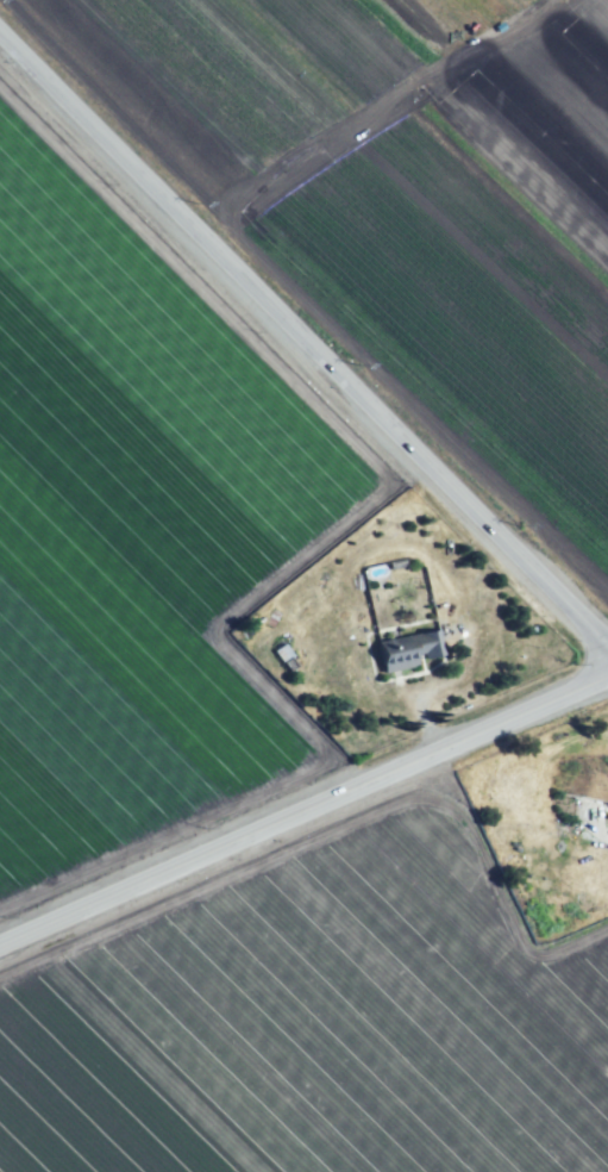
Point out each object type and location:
crop: (406, 210)
road: (305, 337)
building: (403, 652)
building: (281, 653)
crop: (222, 772)
road: (303, 818)
building: (577, 819)

